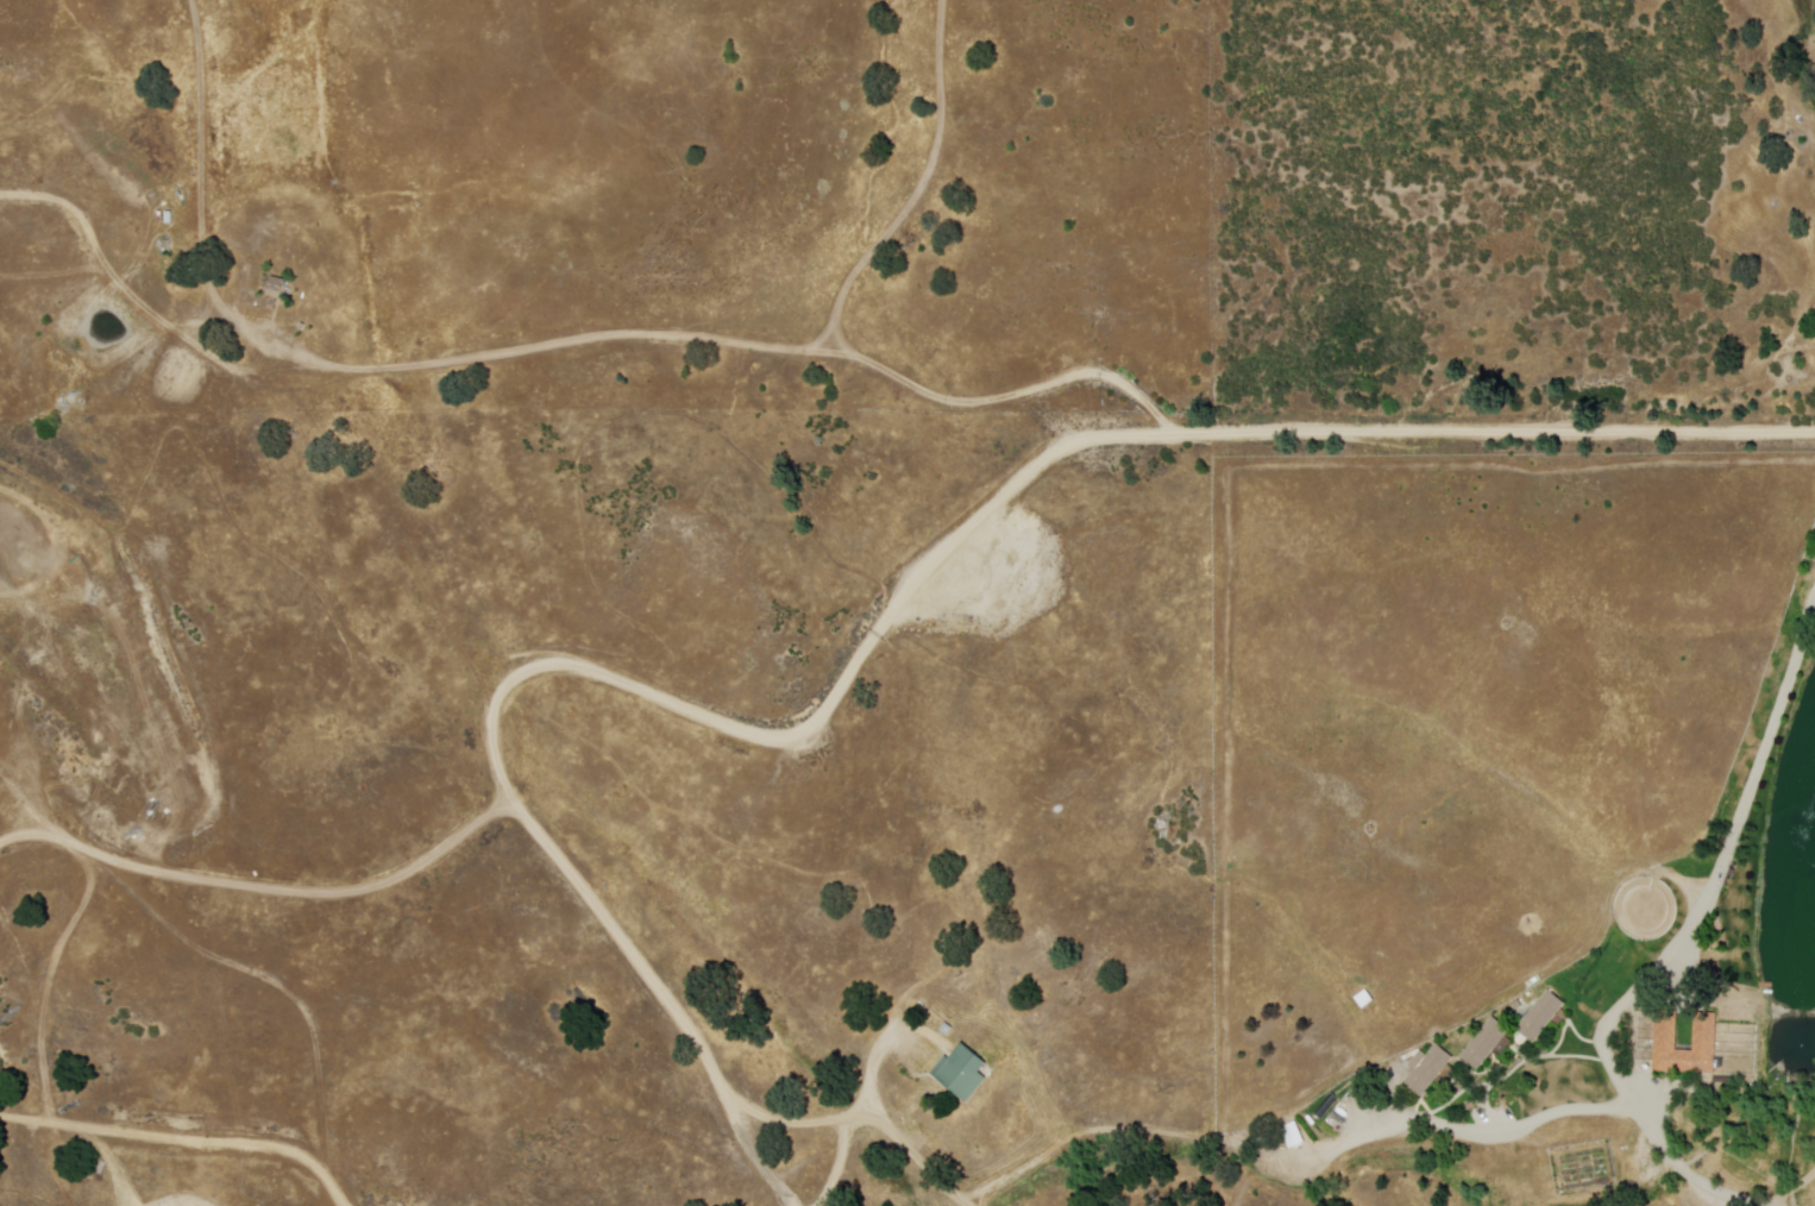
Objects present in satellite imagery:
road: (205, 151)
road: (917, 191)
building: (277, 287)
road: (702, 343)
road: (1491, 432)
road: (599, 677)
building: (1543, 1016)
building: (1706, 1032)
building: (1486, 1045)
building: (1427, 1070)
building: (962, 1073)
road: (187, 1128)
road: (1449, 1128)
building: (1290, 1135)
road: (1688, 1164)

